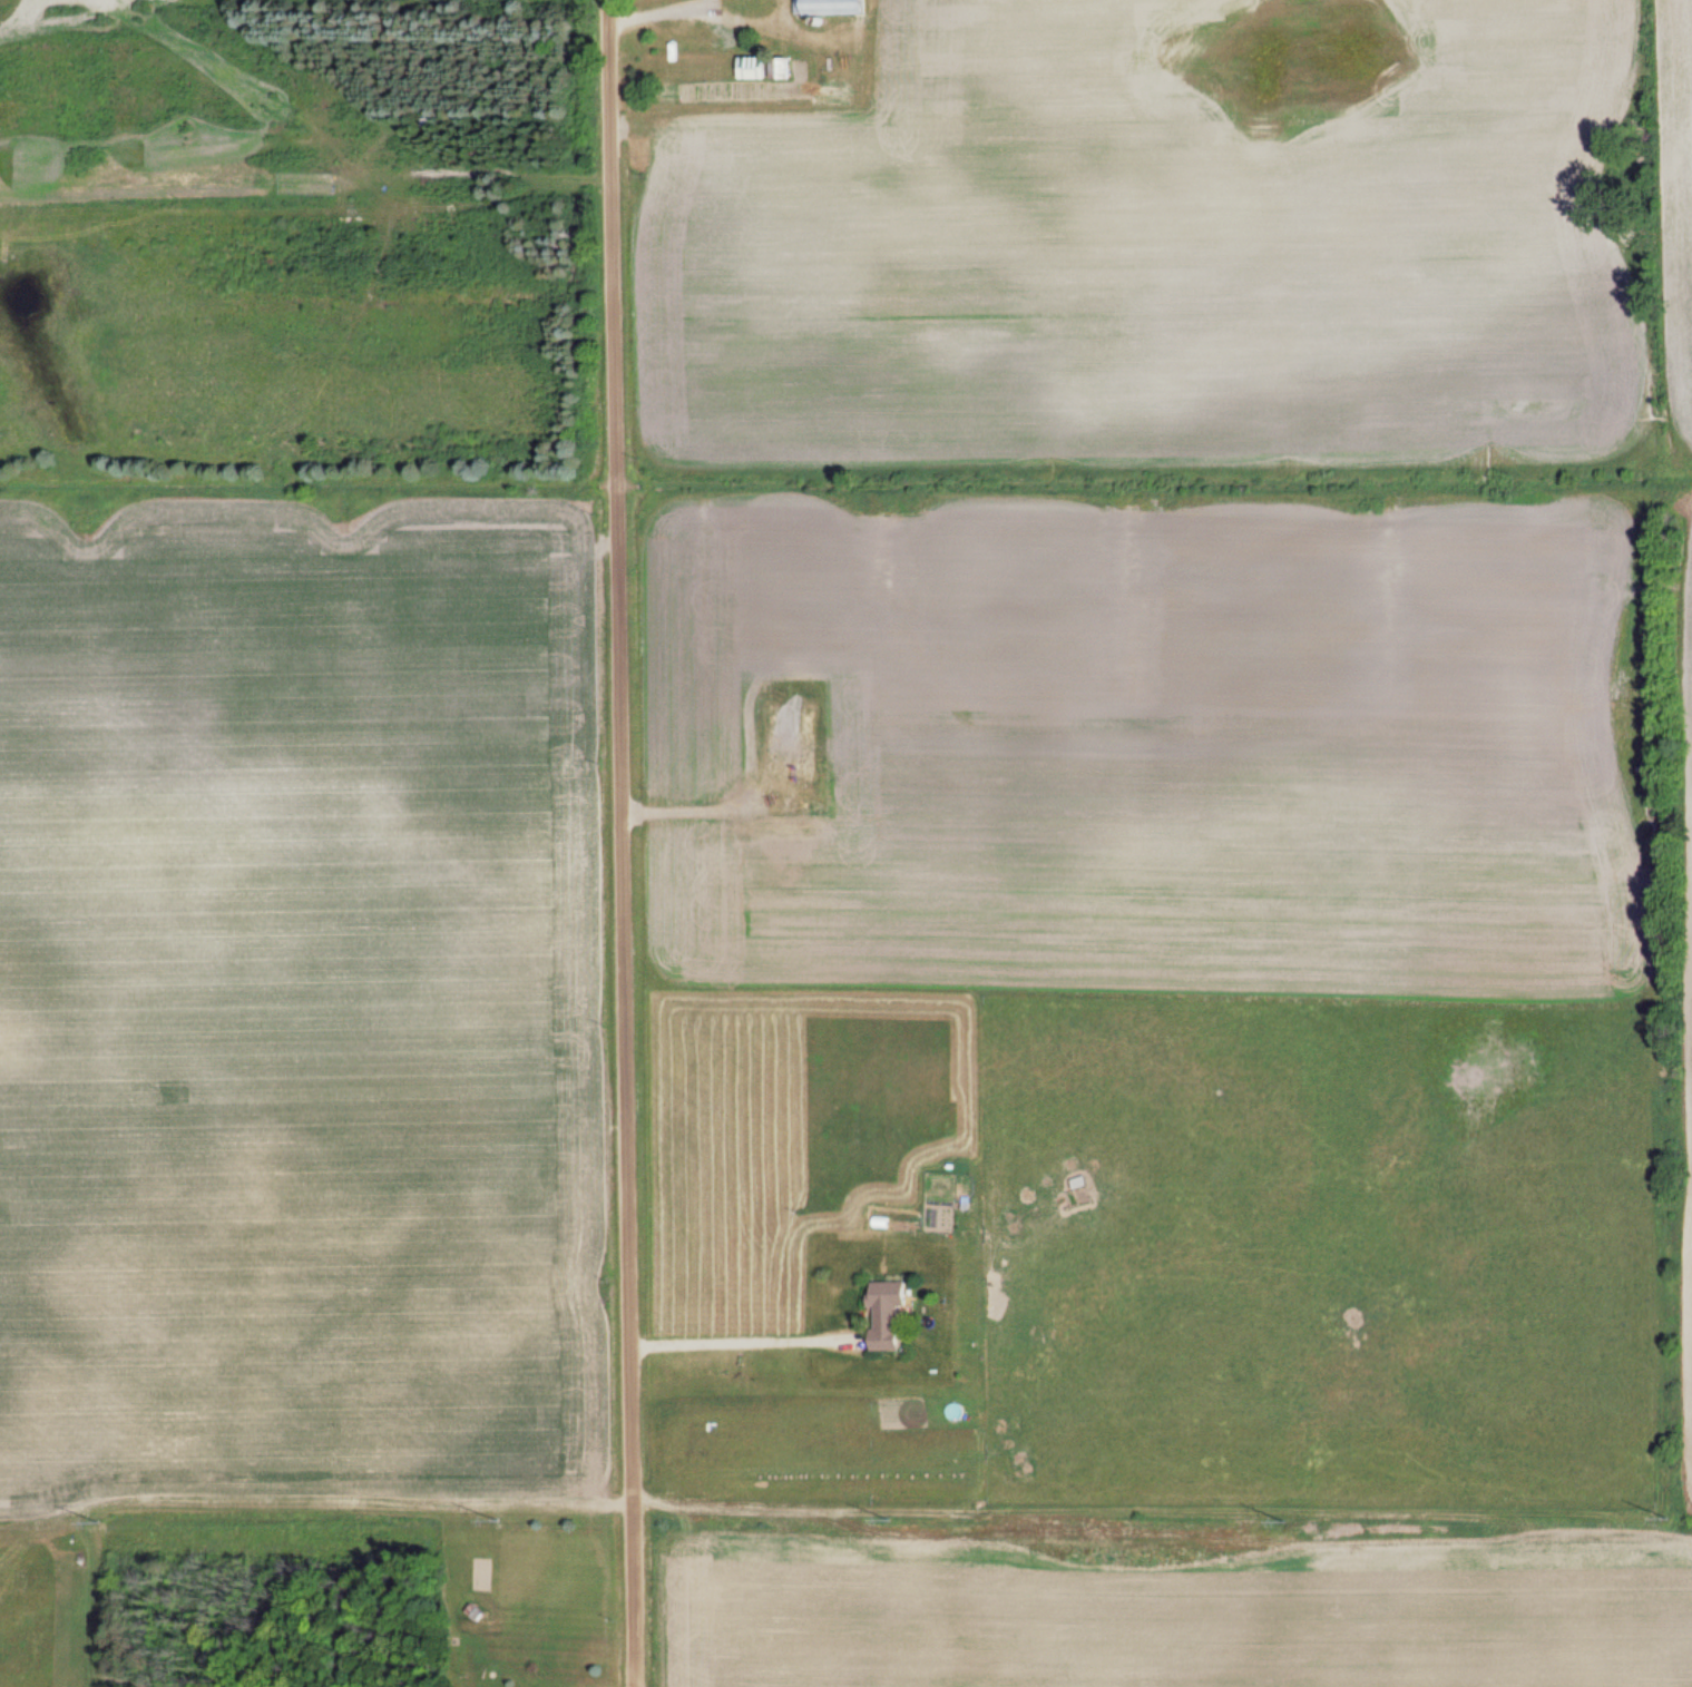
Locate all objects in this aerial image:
building: (829, 7)
building: (779, 69)
building: (788, 765)
road: (620, 843)
building: (882, 1314)

